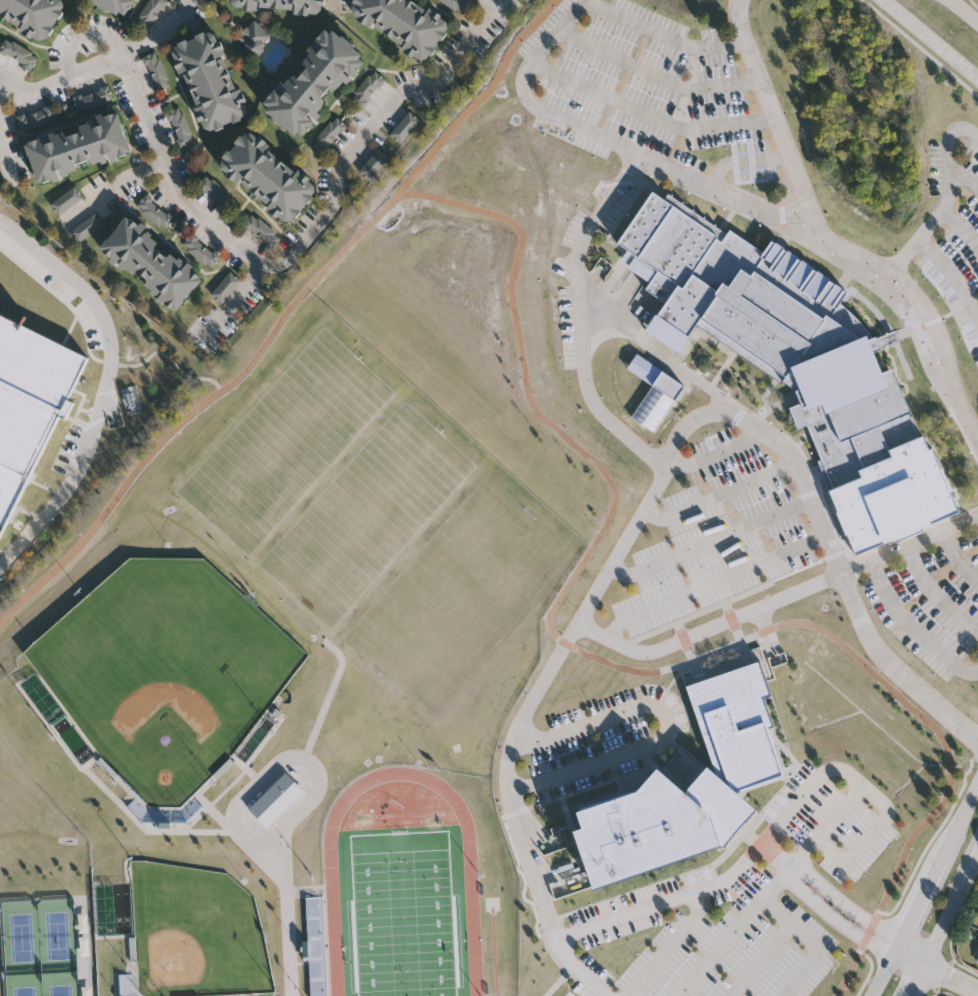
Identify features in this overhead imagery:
road: (501, 0)
building: (114, 5)
building: (279, 5)
building: (458, 5)
road: (972, 5)
road: (966, 9)
building: (152, 14)
building: (32, 15)
building: (403, 23)
road: (558, 30)
road: (83, 36)
road: (929, 40)
building: (20, 55)
road: (102, 62)
building: (159, 73)
road: (656, 76)
building: (209, 81)
building: (314, 81)
road: (2, 83)
road: (648, 116)
building: (409, 124)
building: (183, 128)
building: (78, 148)
road: (945, 153)
road: (7, 160)
road: (743, 163)
building: (375, 166)
building: (267, 177)
road: (962, 180)
road: (113, 188)
building: (217, 192)
road: (728, 196)
building: (68, 202)
building: (157, 214)
road: (960, 229)
building: (87, 230)
building: (263, 232)
road: (308, 236)
road: (915, 240)
road: (824, 241)
building: (203, 252)
building: (151, 263)
road: (951, 277)
parking lot: (56, 289)
building: (227, 289)
road: (235, 303)
road: (576, 318)
road: (279, 325)
road: (665, 356)
building: (795, 365)
road: (106, 385)
building: (656, 395)
building: (30, 403)
parking lot: (69, 449)
road: (713, 455)
road: (717, 495)
road: (709, 541)
road: (953, 560)
road: (713, 584)
road: (934, 596)
road: (778, 598)
road: (592, 599)
road: (912, 627)
road: (893, 665)
road: (621, 666)
park: (166, 671)
road: (665, 729)
road: (283, 761)
road: (816, 778)
building: (688, 787)
building: (279, 801)
road: (840, 812)
road: (883, 825)
road: (833, 853)
road: (803, 854)
track: (401, 889)
road: (928, 891)
road: (681, 894)
road: (827, 900)
road: (780, 908)
park: (404, 913)
road: (288, 920)
road: (947, 929)
road: (733, 932)
park: (196, 935)
road: (670, 946)
road: (815, 957)
road: (760, 958)
building: (977, 959)
building: (977, 961)
road: (936, 969)

